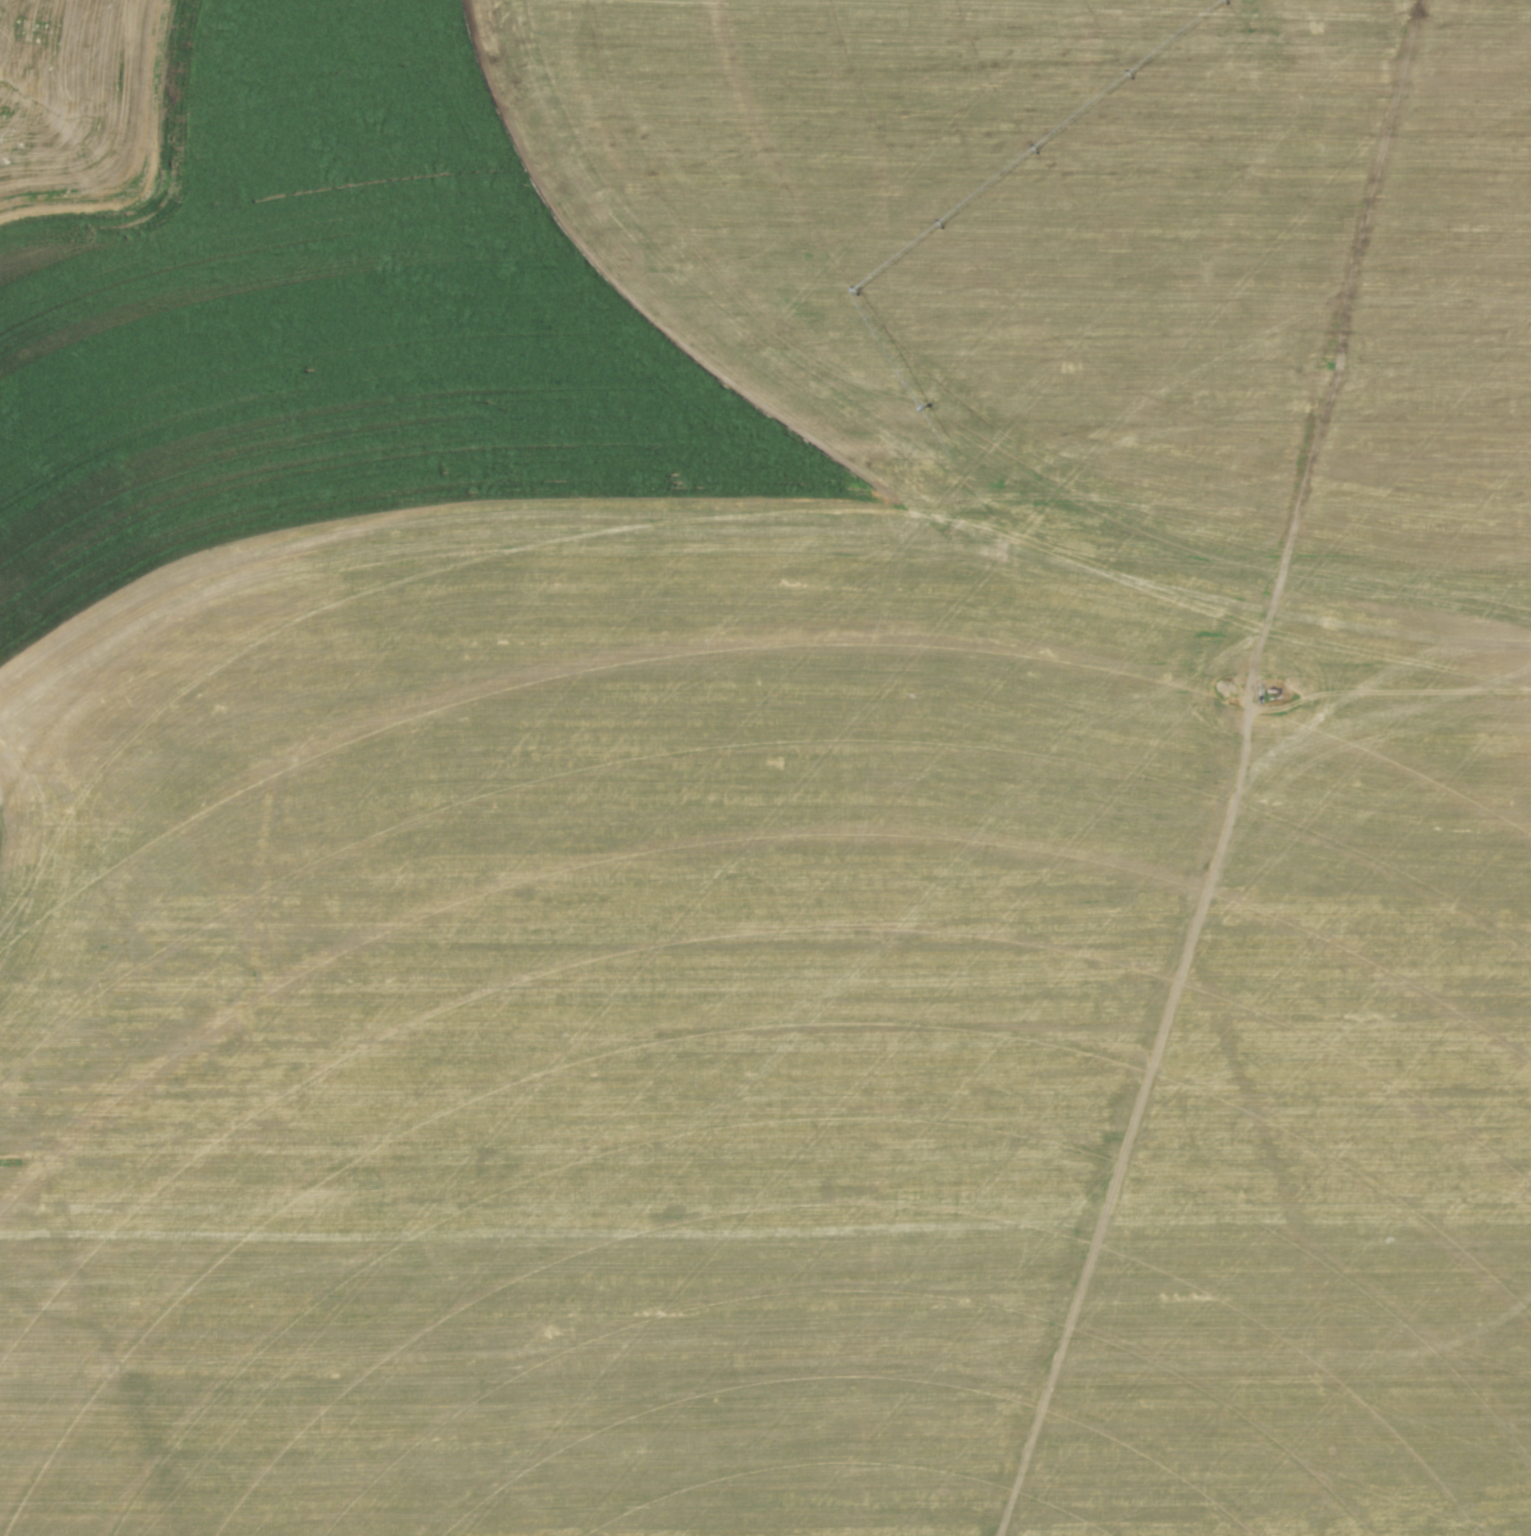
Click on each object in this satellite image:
crop: (76, 95)

